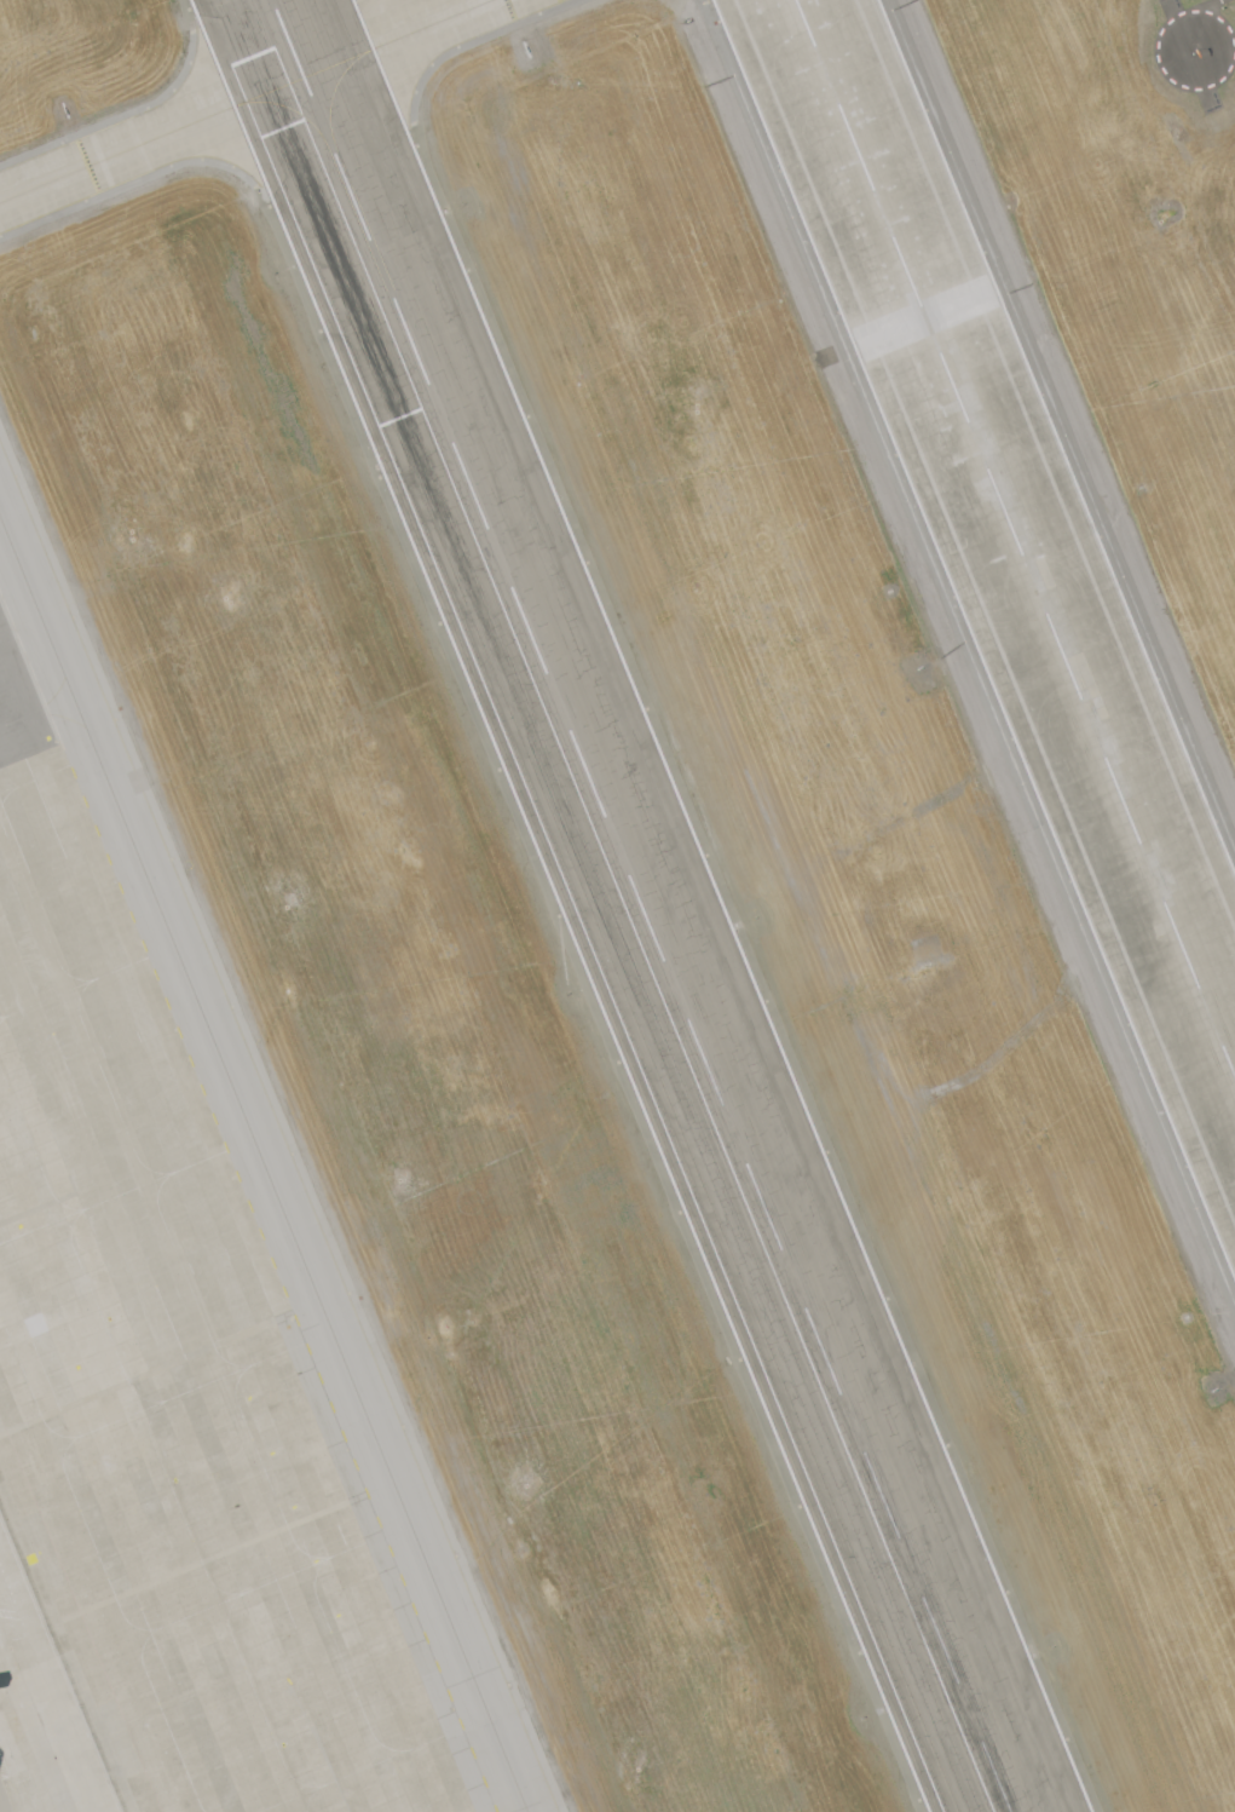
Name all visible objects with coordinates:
airport taxiway: (248, 102)
airport runway: (1015, 537)
airport: (617, 905)
airport runway: (644, 905)
airport taxiway: (264, 1162)
airport apron: (162, 1420)

